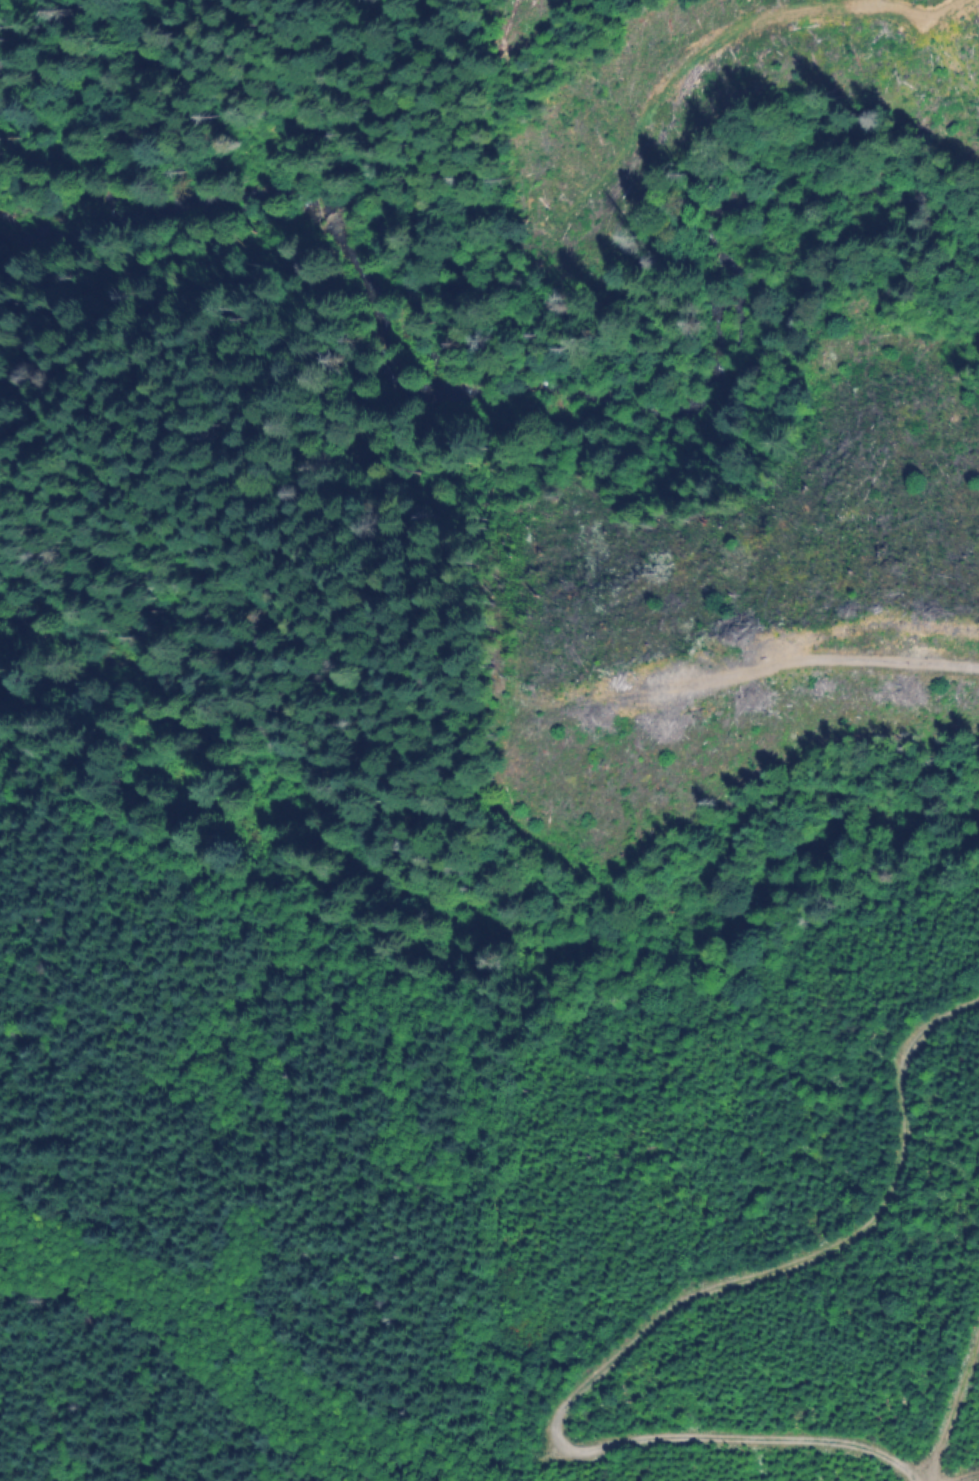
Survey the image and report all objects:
road: (649, 1328)

